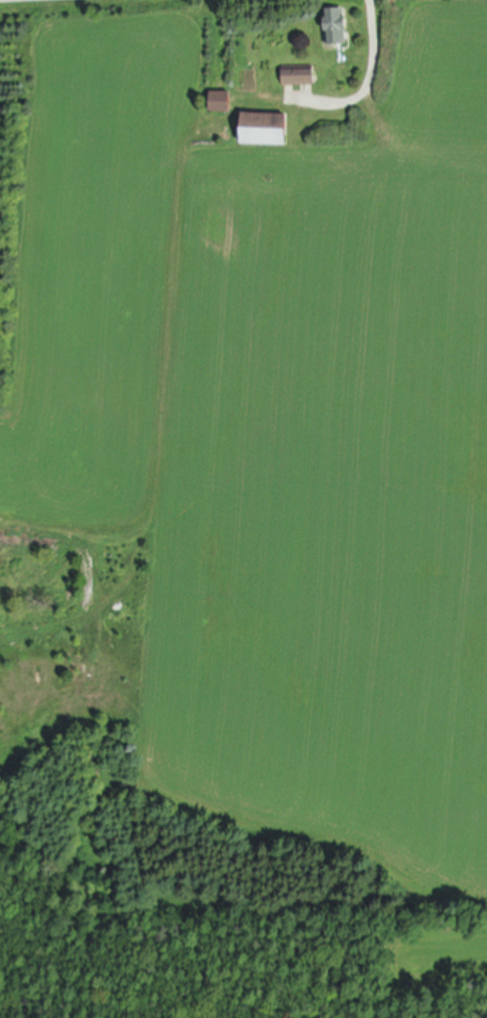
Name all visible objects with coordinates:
building: (337, 26)
building: (298, 76)
road: (371, 77)
building: (220, 102)
building: (264, 130)

